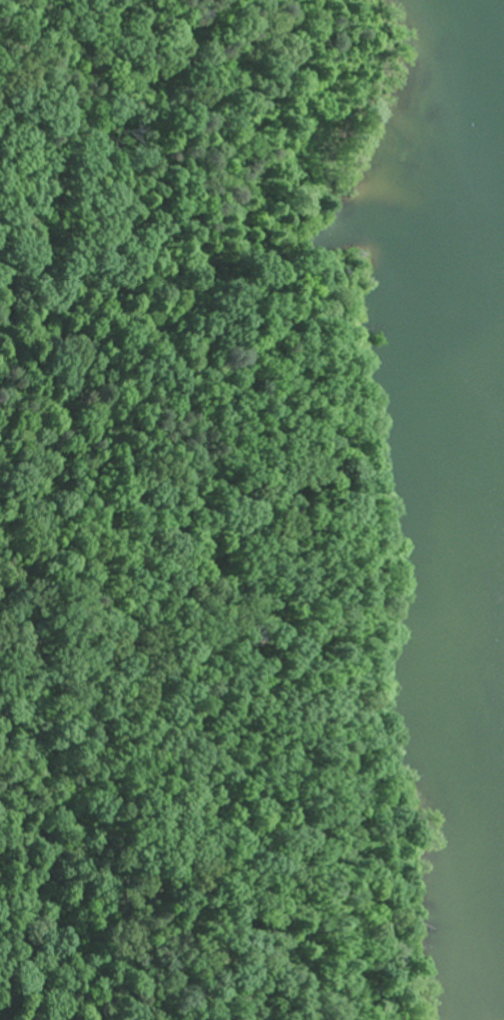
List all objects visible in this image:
park: (194, 524)

